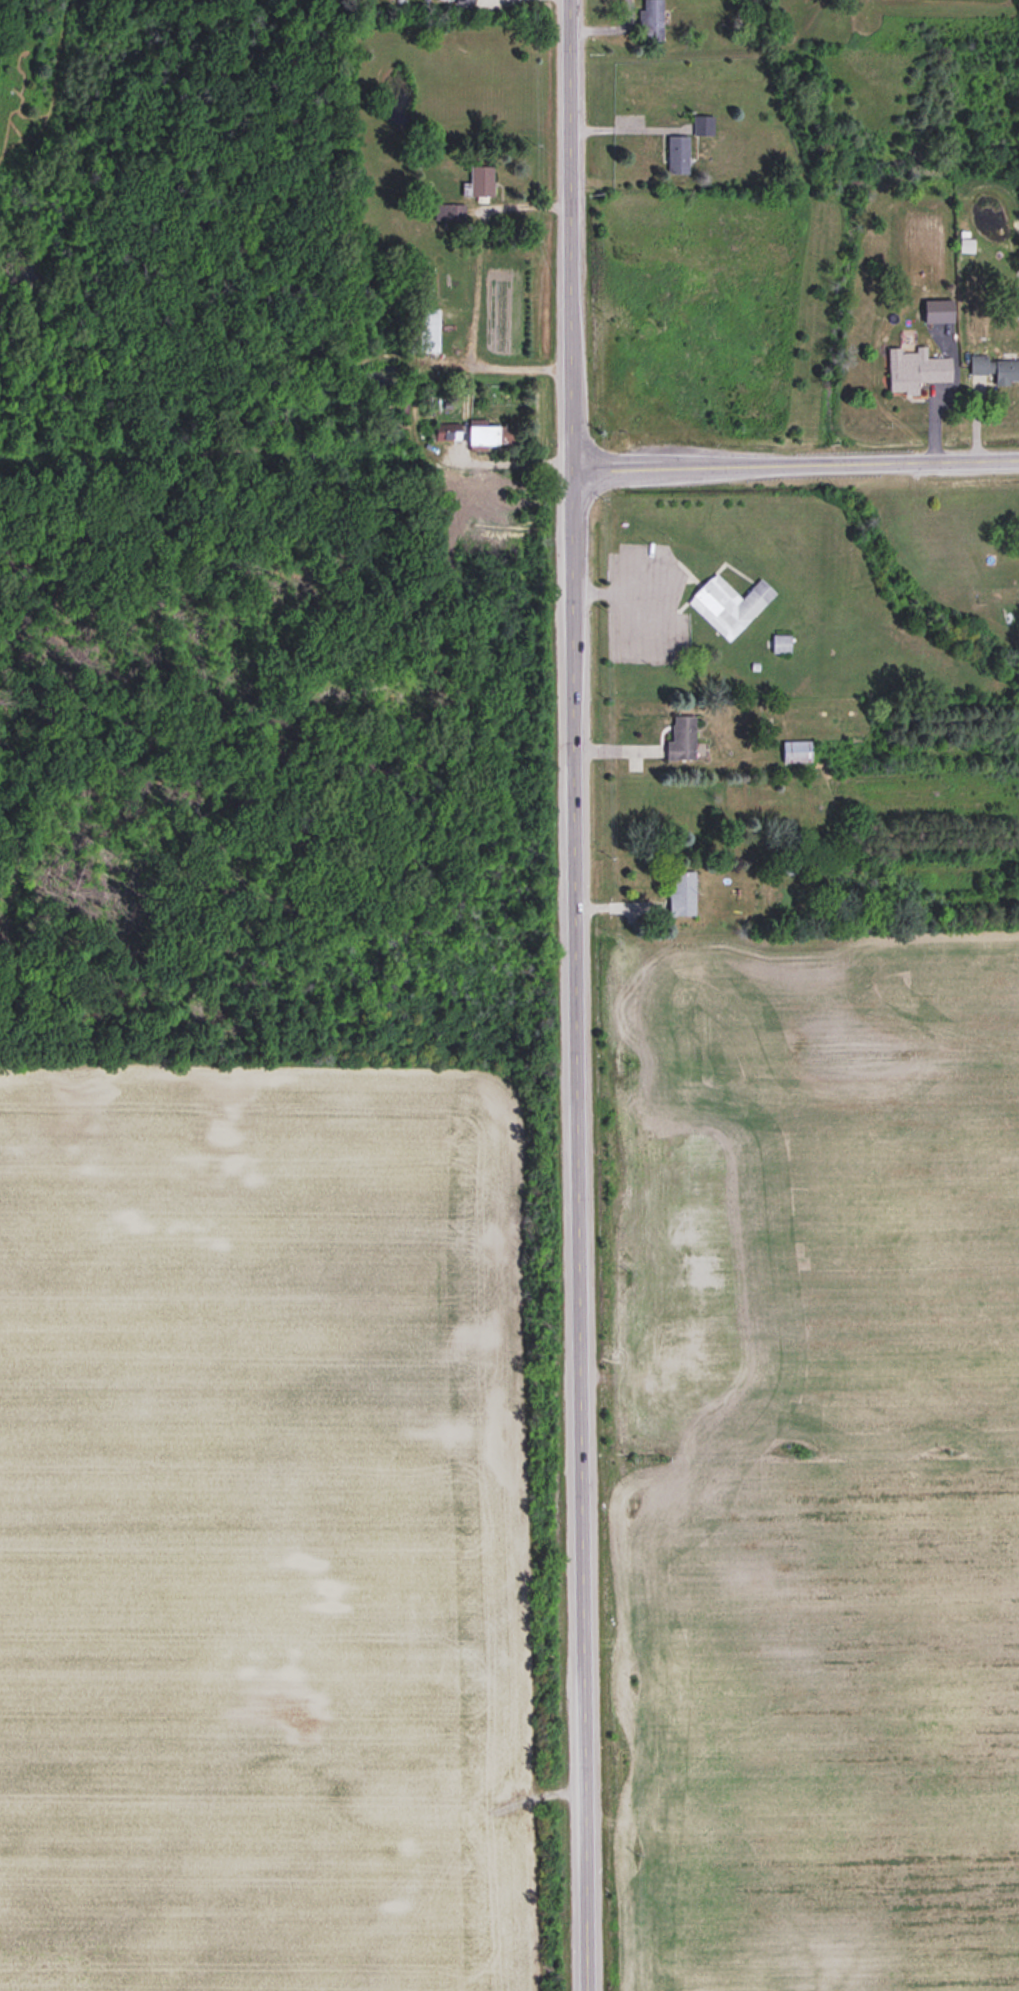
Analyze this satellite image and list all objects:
building: (464, 2)
building: (651, 22)
road: (610, 30)
building: (703, 127)
building: (678, 156)
building: (479, 183)
building: (423, 331)
building: (995, 370)
building: (916, 373)
building: (395, 410)
road: (460, 415)
building: (444, 432)
building: (488, 436)
road: (795, 460)
building: (729, 606)
building: (781, 645)
building: (682, 740)
building: (797, 752)
building: (682, 895)
road: (575, 995)

